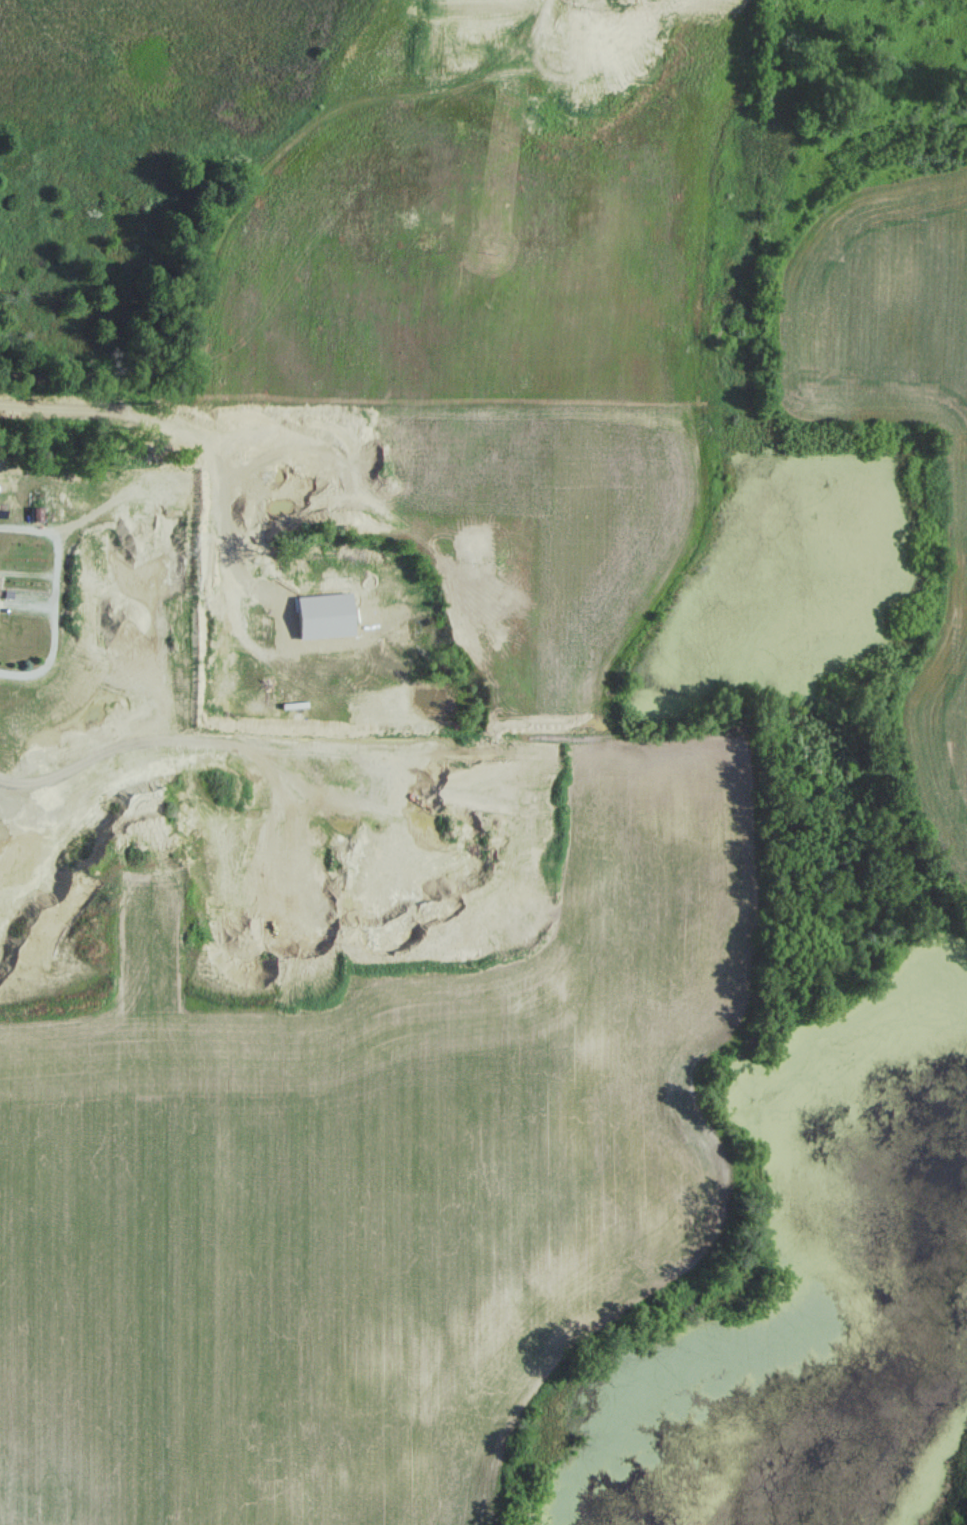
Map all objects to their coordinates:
building: (619, 3)
building: (634, 24)
building: (575, 100)
road: (184, 432)
building: (37, 508)

